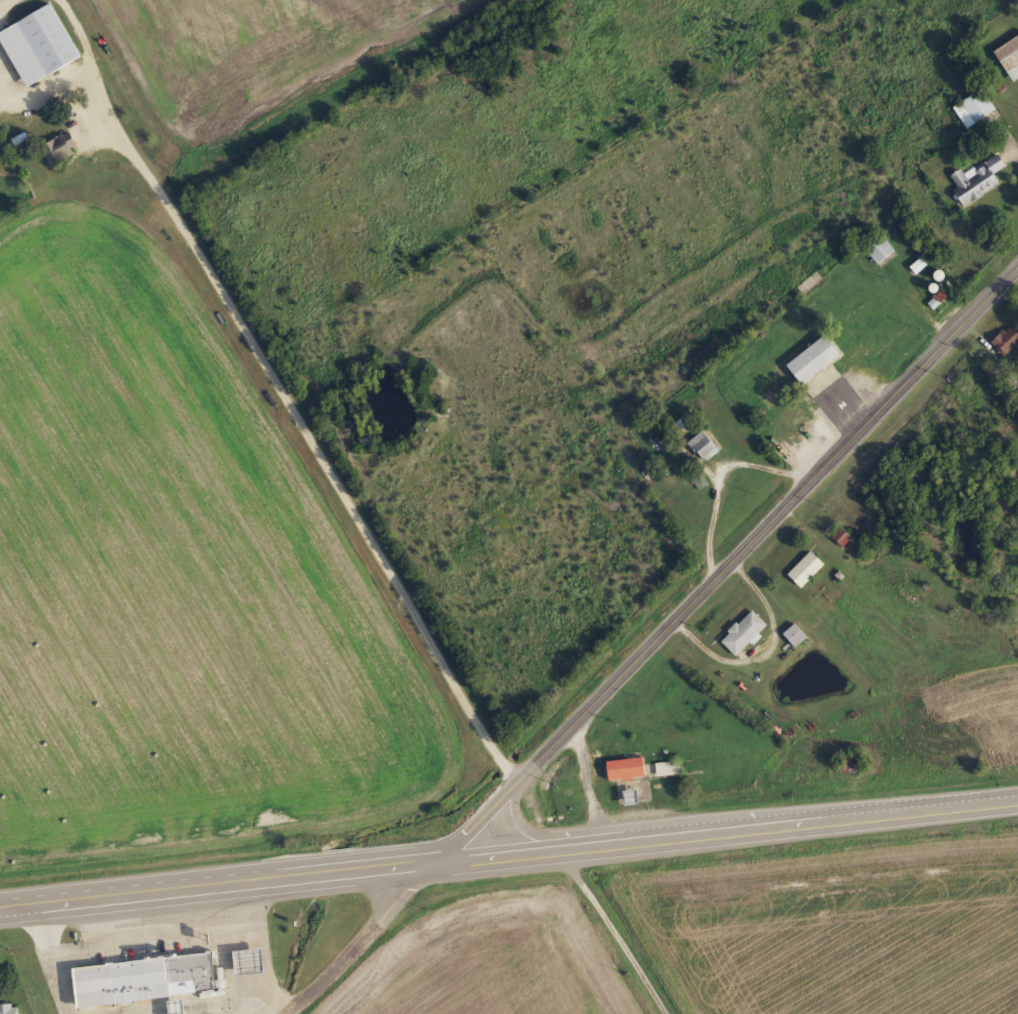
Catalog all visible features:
building: (40, 45)
building: (1010, 57)
building: (976, 108)
building: (61, 149)
building: (978, 180)
building: (882, 250)
building: (920, 266)
building: (1007, 340)
building: (815, 359)
building: (685, 423)
building: (705, 446)
road: (363, 505)
building: (843, 537)
road: (728, 569)
building: (807, 569)
building: (745, 634)
building: (627, 768)
road: (508, 851)
road: (371, 940)
building: (146, 979)
building: (9, 1009)

